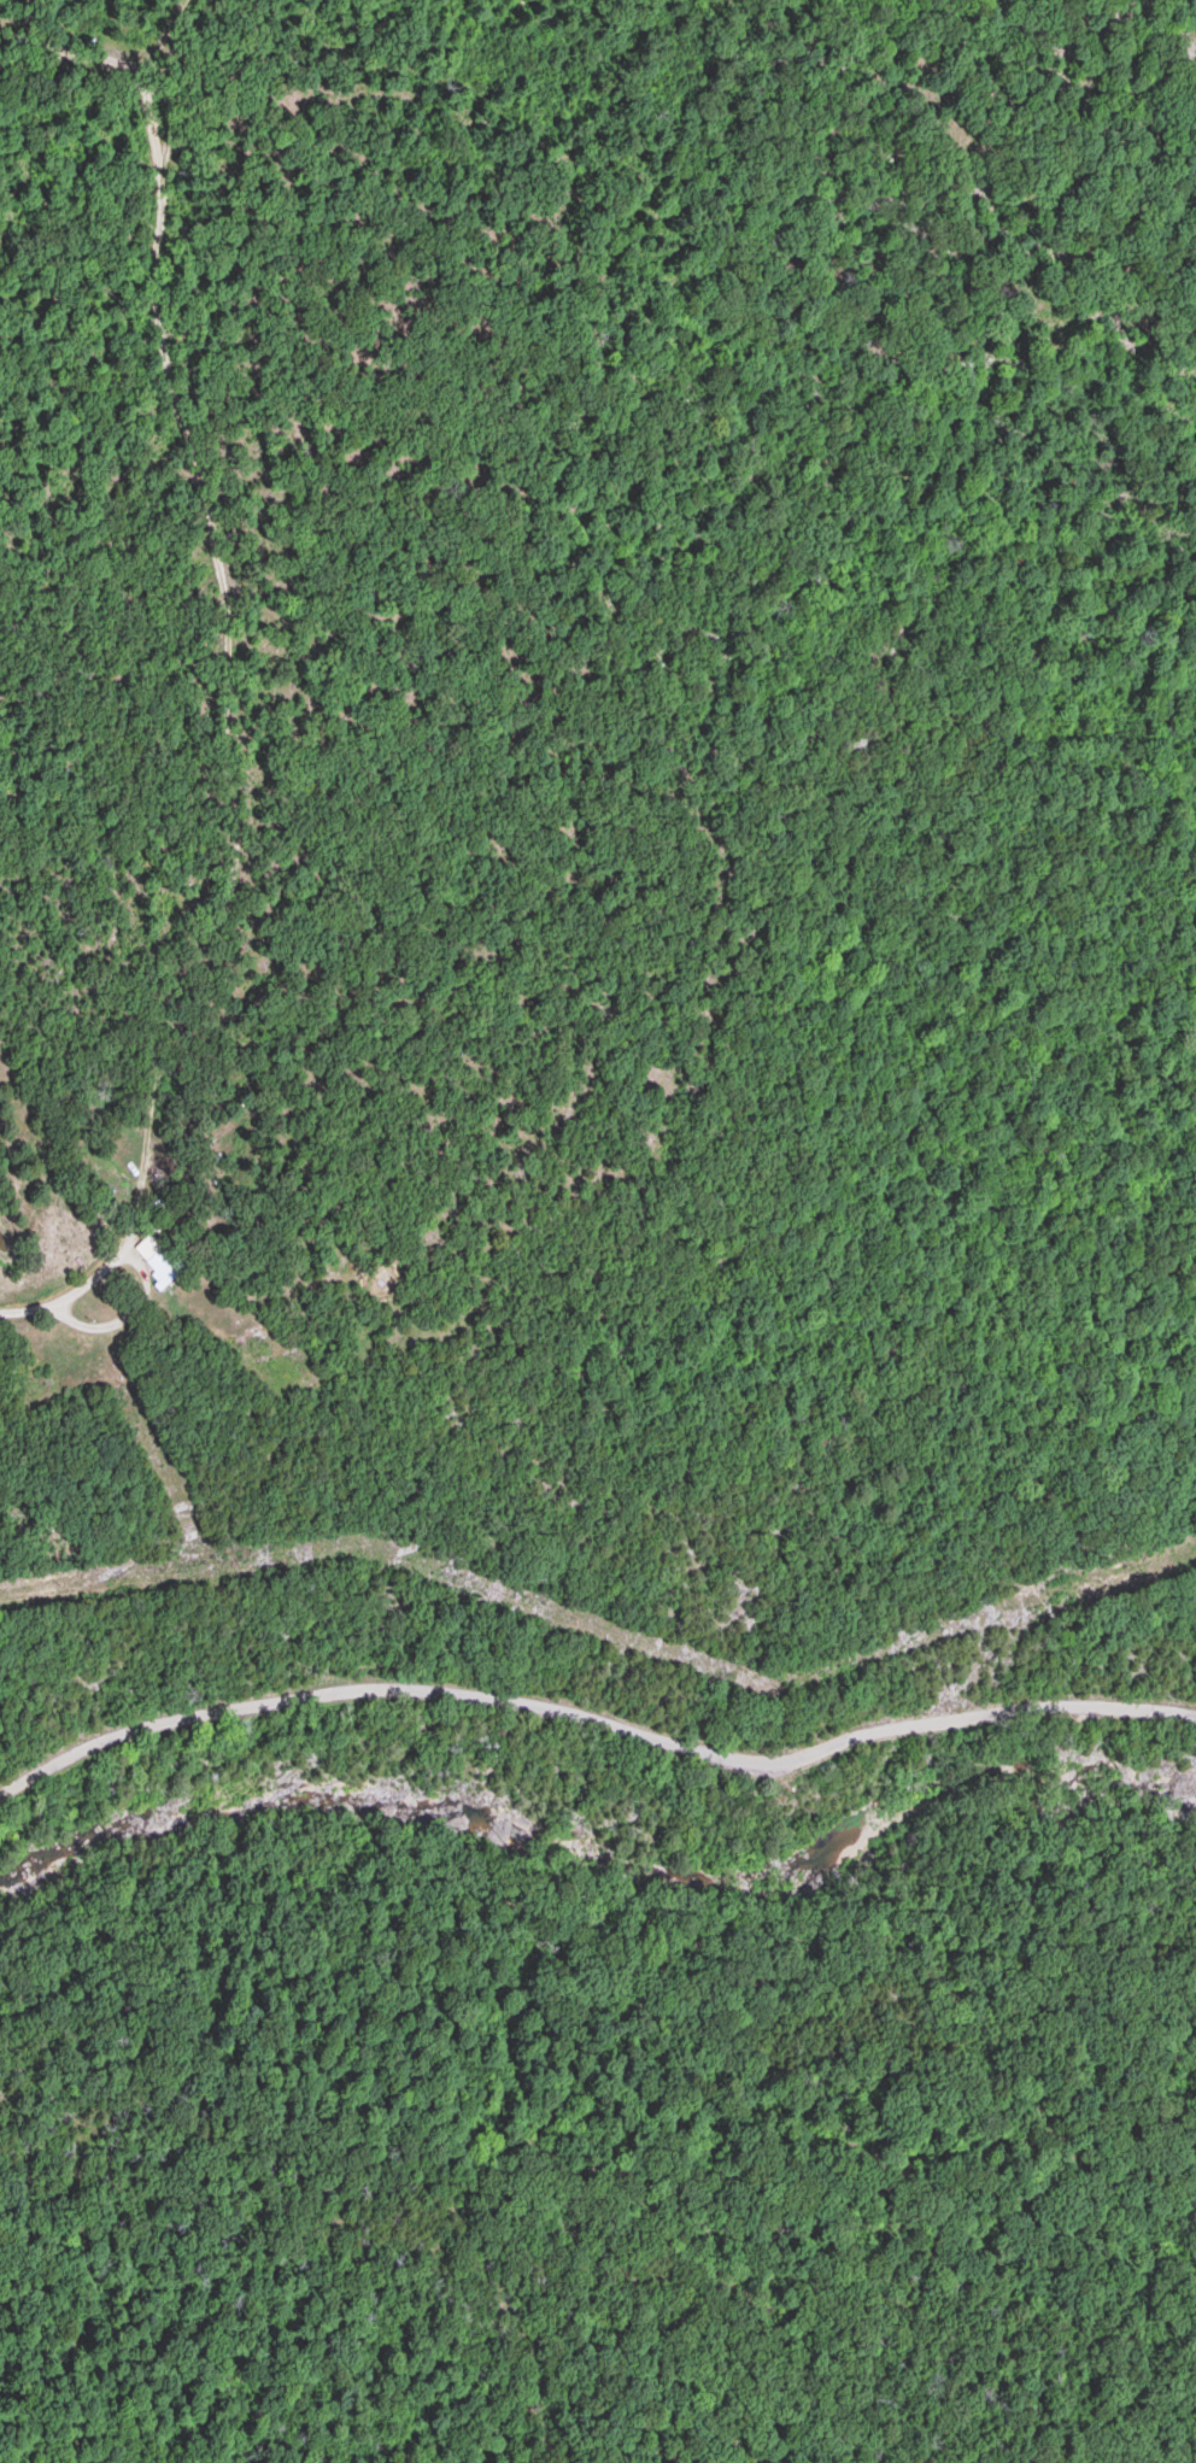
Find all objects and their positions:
building: (171, 1078)
building: (164, 1265)
road: (61, 1292)
road: (591, 1734)
road: (719, 2210)

